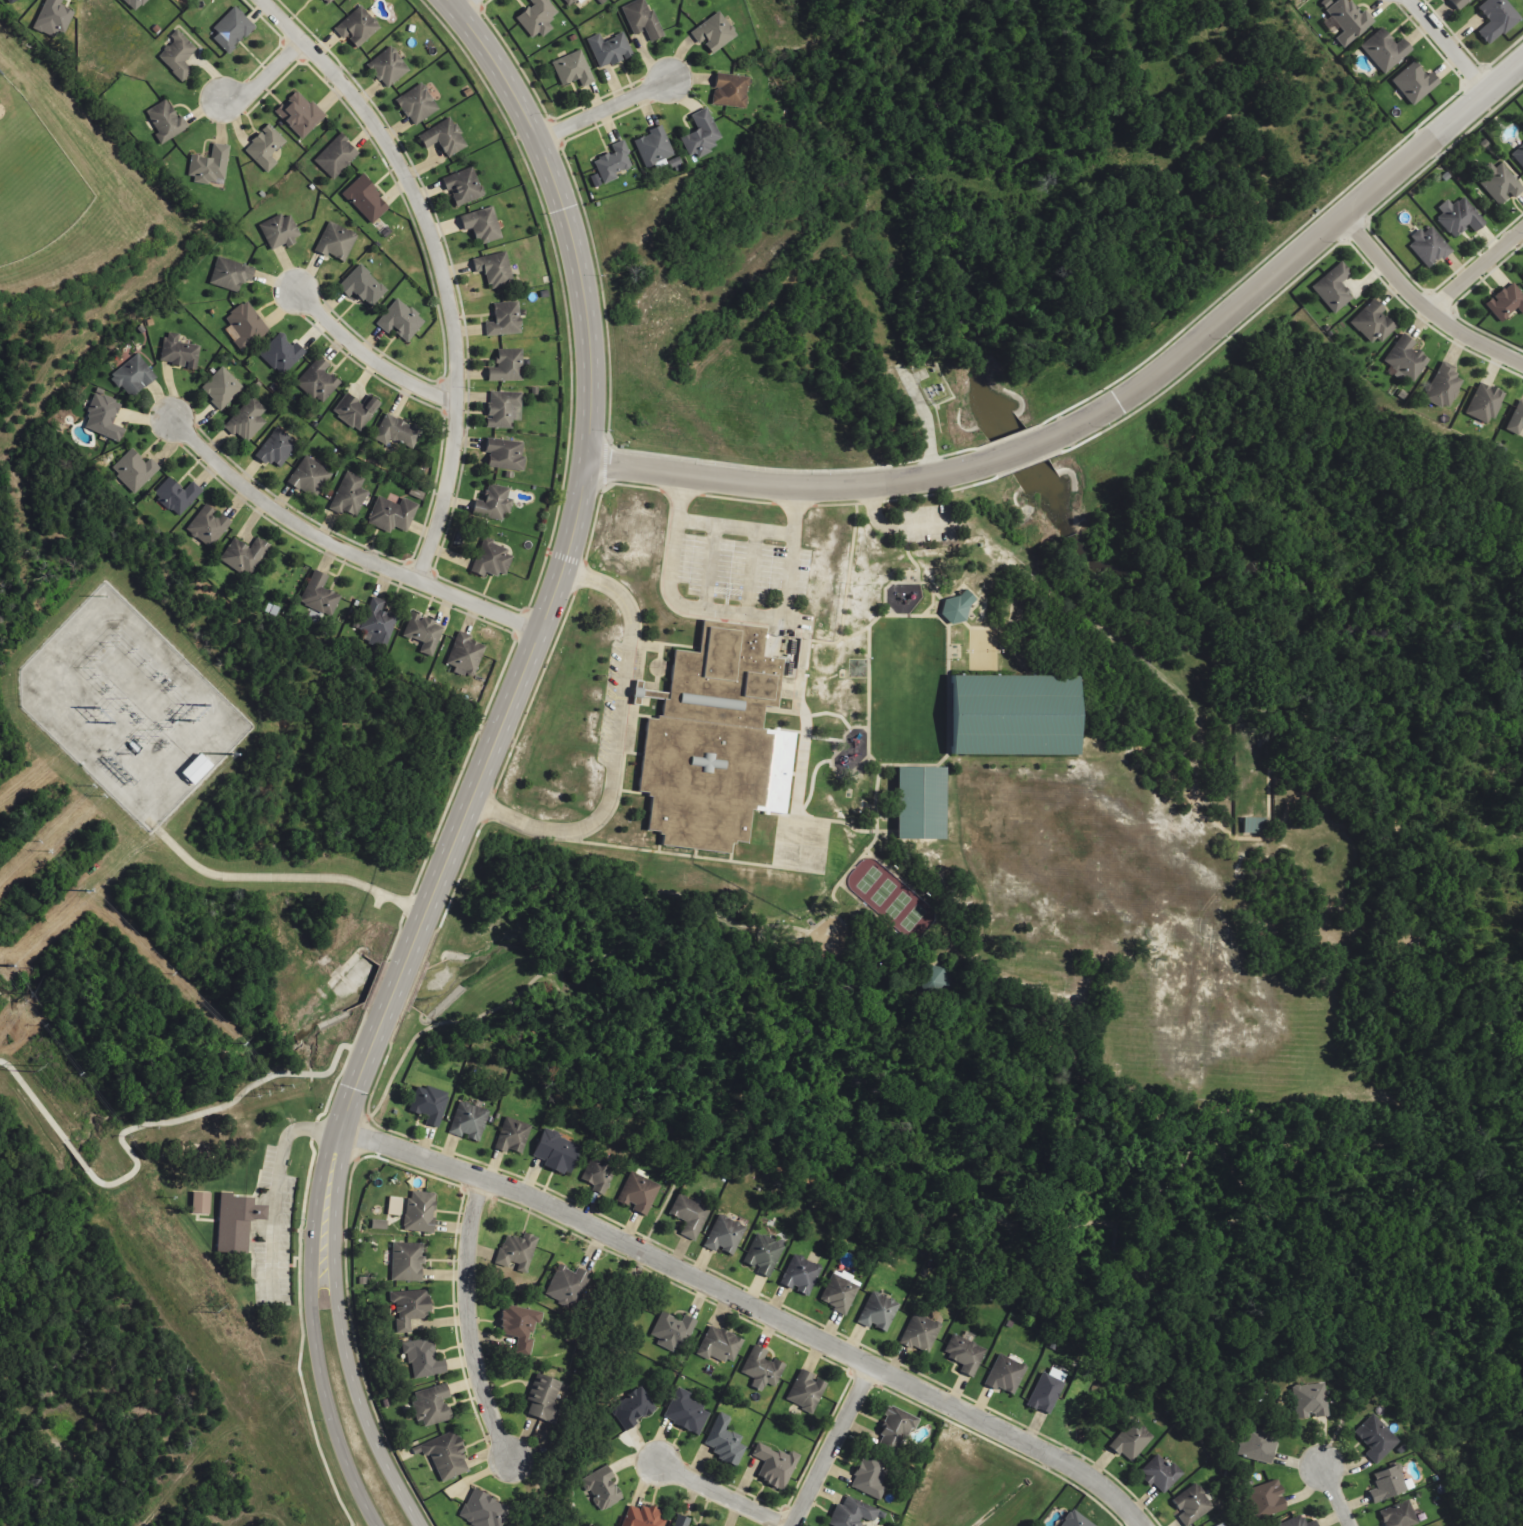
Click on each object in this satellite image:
building: (11, 1)
building: (327, 1)
building: (570, 1)
building: (1458, 3)
building: (135, 4)
road: (464, 6)
building: (537, 17)
building: (52, 18)
building: (641, 19)
building: (1496, 19)
building: (1348, 21)
building: (357, 27)
building: (231, 30)
building: (714, 33)
road: (1445, 44)
building: (609, 49)
building: (1385, 50)
building: (177, 56)
building: (388, 67)
building: (573, 69)
road: (263, 74)
building: (1414, 83)
building: (730, 90)
building: (417, 104)
road: (603, 107)
building: (299, 114)
building: (165, 121)
building: (701, 135)
building: (444, 137)
building: (654, 147)
building: (265, 148)
building: (1519, 155)
building: (336, 156)
building: (613, 163)
building: (210, 166)
park: (34, 179)
building: (1500, 182)
building: (463, 186)
building: (365, 200)
building: (1458, 216)
building: (482, 225)
building: (279, 231)
building: (336, 242)
building: (1428, 247)
road: (1295, 252)
road: (439, 262)
road: (1473, 267)
building: (494, 269)
building: (230, 274)
building: (362, 286)
building: (1334, 287)
building: (1506, 301)
road: (1418, 305)
building: (504, 319)
building: (400, 320)
building: (1372, 323)
building: (246, 324)
building: (179, 352)
building: (281, 354)
road: (368, 355)
building: (1405, 359)
building: (507, 366)
building: (133, 376)
building: (317, 381)
building: (1443, 386)
building: (222, 388)
building: (1485, 403)
building: (503, 409)
building: (355, 411)
building: (104, 418)
building: (1516, 419)
building: (247, 420)
building: (397, 431)
building: (276, 448)
road: (1024, 449)
building: (505, 454)
building: (135, 470)
building: (309, 477)
road: (789, 485)
building: (177, 495)
building: (349, 495)
building: (494, 503)
building: (392, 514)
road: (872, 514)
parking lot: (928, 524)
building: (207, 525)
road: (341, 547)
building: (244, 555)
building: (491, 559)
road: (912, 564)
road: (561, 566)
road: (923, 584)
building: (320, 594)
road: (936, 596)
road: (918, 601)
building: (956, 607)
road: (940, 608)
building: (378, 622)
road: (956, 622)
road: (965, 624)
building: (424, 633)
park: (981, 649)
building: (465, 655)
power substation: (128, 706)
park: (1015, 714)
building: (1010, 716)
building: (710, 741)
road: (938, 763)
building: (195, 768)
park: (918, 801)
building: (919, 803)
road: (870, 807)
building: (1254, 825)
road: (847, 872)
park: (979, 888)
park: (890, 899)
road: (830, 916)
road: (696, 918)
road: (816, 925)
road: (524, 986)
road: (415, 1028)
power tower: (36, 1067)
road: (383, 1079)
building: (429, 1104)
road: (372, 1121)
building: (469, 1121)
building: (513, 1136)
building: (556, 1151)
building: (598, 1175)
building: (639, 1193)
building: (200, 1202)
road: (665, 1203)
building: (394, 1205)
building: (420, 1211)
building: (689, 1216)
building: (235, 1222)
building: (379, 1224)
building: (724, 1235)
building: (517, 1251)
building: (764, 1253)
building: (406, 1262)
building: (800, 1275)
building: (567, 1286)
building: (840, 1291)
road: (779, 1305)
road: (751, 1306)
building: (408, 1307)
power tower: (217, 1310)
building: (878, 1311)
road: (469, 1321)
building: (519, 1326)
road: (311, 1330)
building: (672, 1332)
building: (920, 1333)
road: (340, 1335)
building: (720, 1345)
building: (964, 1352)
building: (424, 1359)
building: (762, 1369)
building: (1005, 1375)
building: (1046, 1390)
building: (806, 1391)
building: (544, 1399)
building: (1310, 1400)
building: (431, 1404)
building: (633, 1407)
building: (685, 1412)
building: (894, 1429)
building: (1376, 1438)
building: (1131, 1440)
building: (725, 1441)
building: (1257, 1444)
road: (827, 1445)
building: (444, 1454)
building: (775, 1466)
building: (1160, 1473)
building: (869, 1480)
building: (1389, 1483)
building: (602, 1488)
road: (722, 1495)
road: (1336, 1495)
building: (1267, 1499)
building: (1191, 1505)
building: (483, 1511)
building: (852, 1513)
building: (1398, 1515)
building: (644, 1517)
building: (1075, 1520)
building: (682, 1521)
building: (1297, 1522)
building: (1221, 1524)

